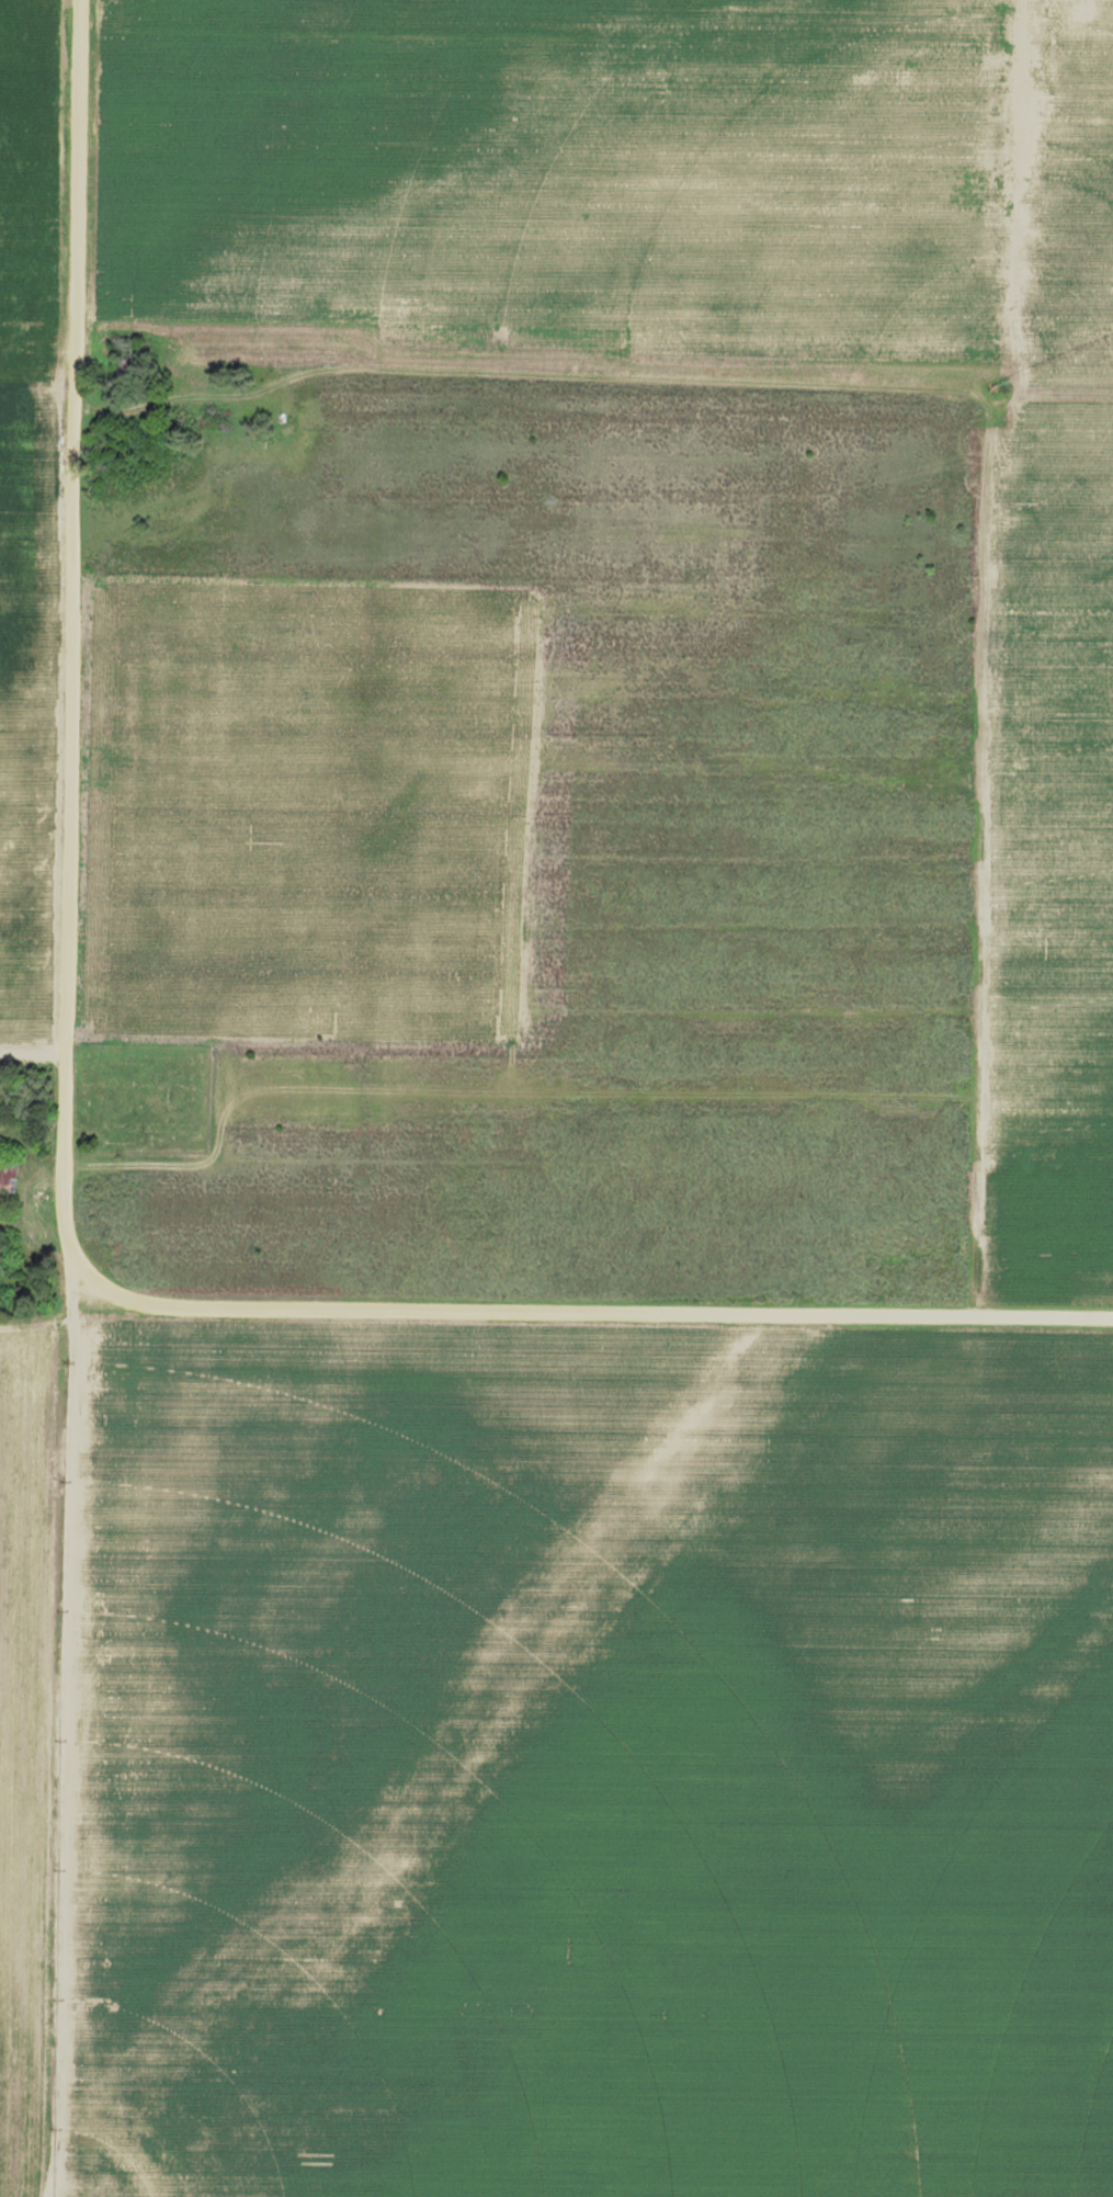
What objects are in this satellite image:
building: (128, 354)
road: (38, 373)
road: (33, 1053)
park: (141, 1098)
road: (65, 1153)
building: (8, 1178)
road: (30, 1328)
road: (42, 1725)

